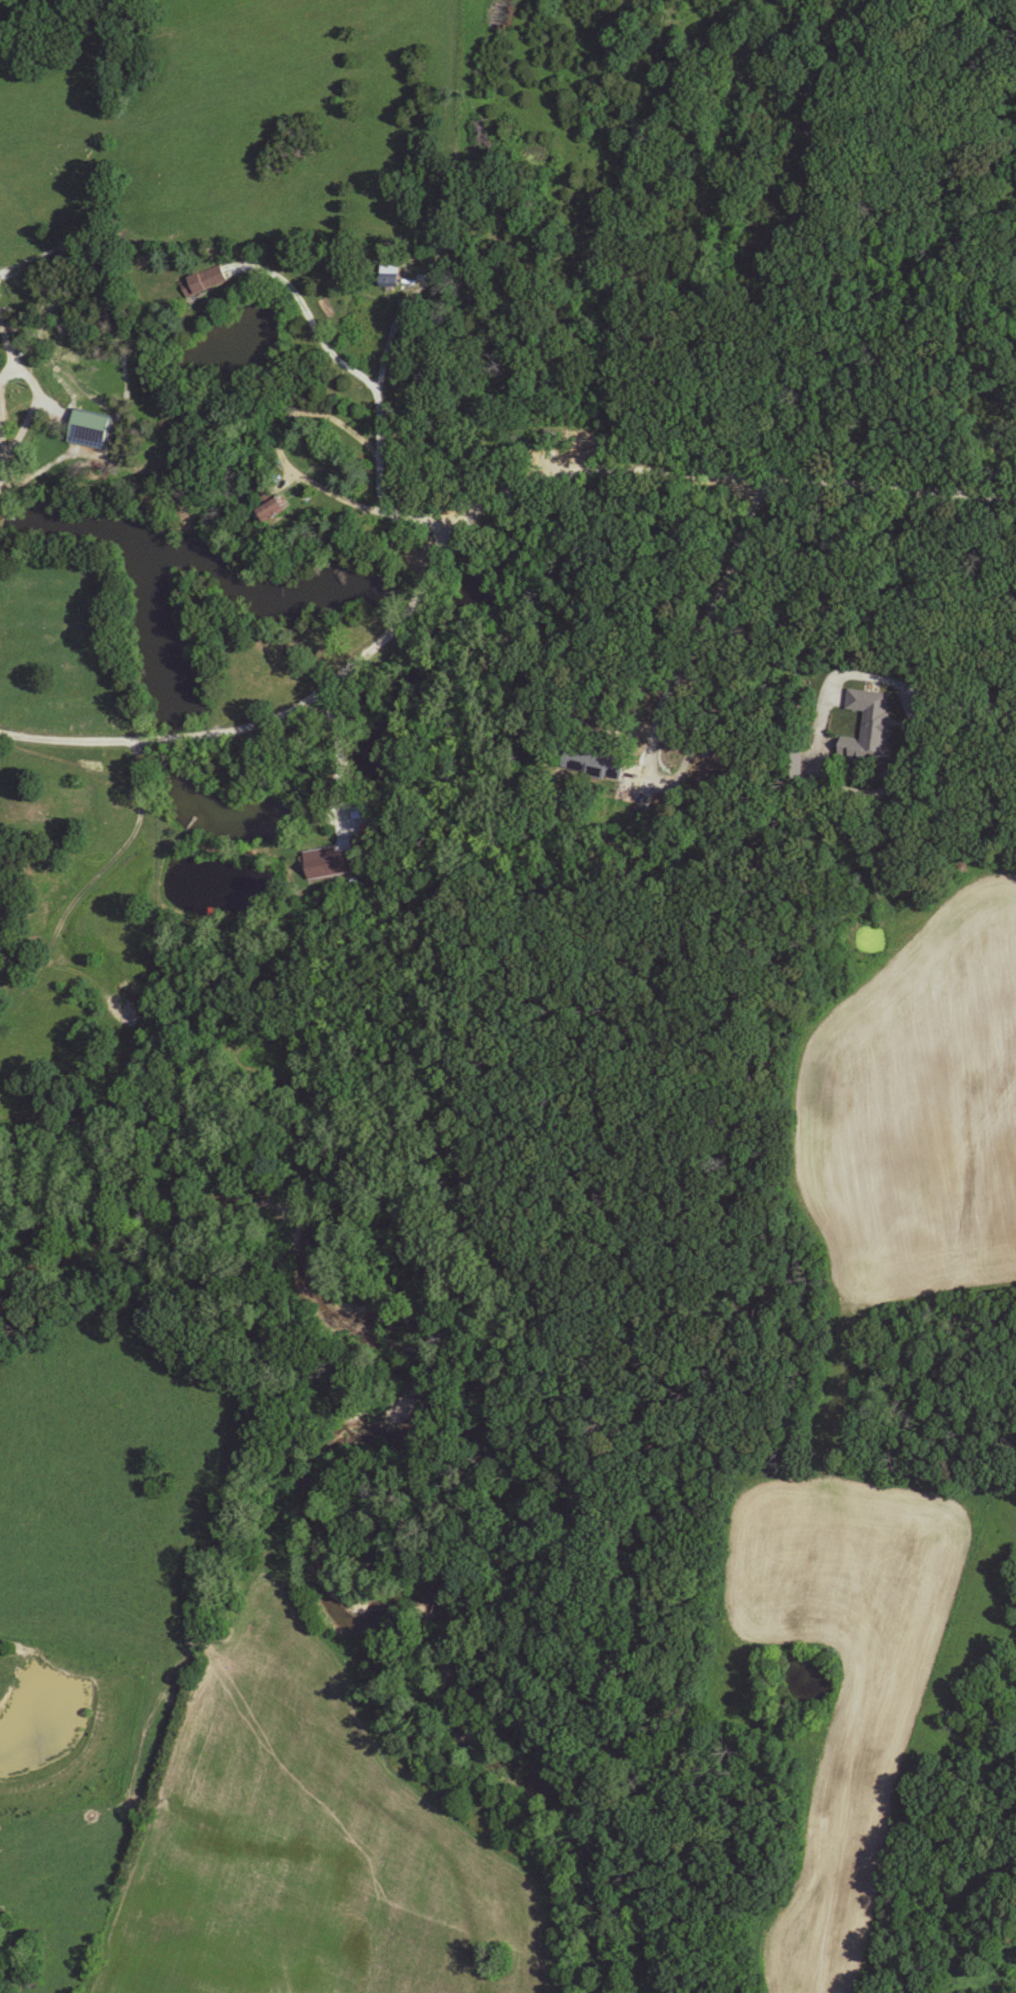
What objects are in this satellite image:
building: (203, 282)
building: (391, 282)
road: (389, 334)
road: (6, 354)
road: (340, 364)
road: (27, 418)
building: (90, 430)
road: (278, 446)
road: (2, 473)
road: (692, 480)
building: (271, 505)
road: (400, 621)
road: (693, 636)
road: (905, 709)
road: (987, 711)
building: (870, 728)
road: (162, 743)
road: (814, 752)
building: (595, 765)
road: (332, 773)
building: (330, 863)

